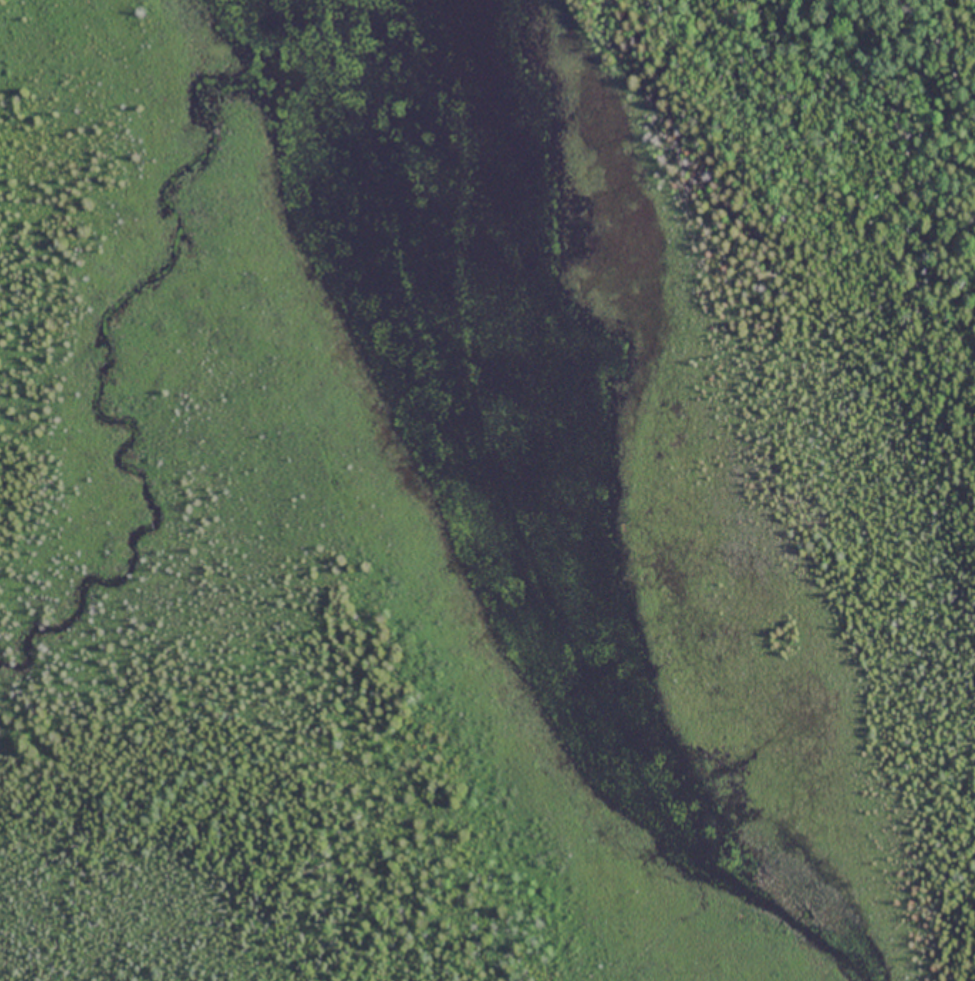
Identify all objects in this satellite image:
river: (798, 919)

